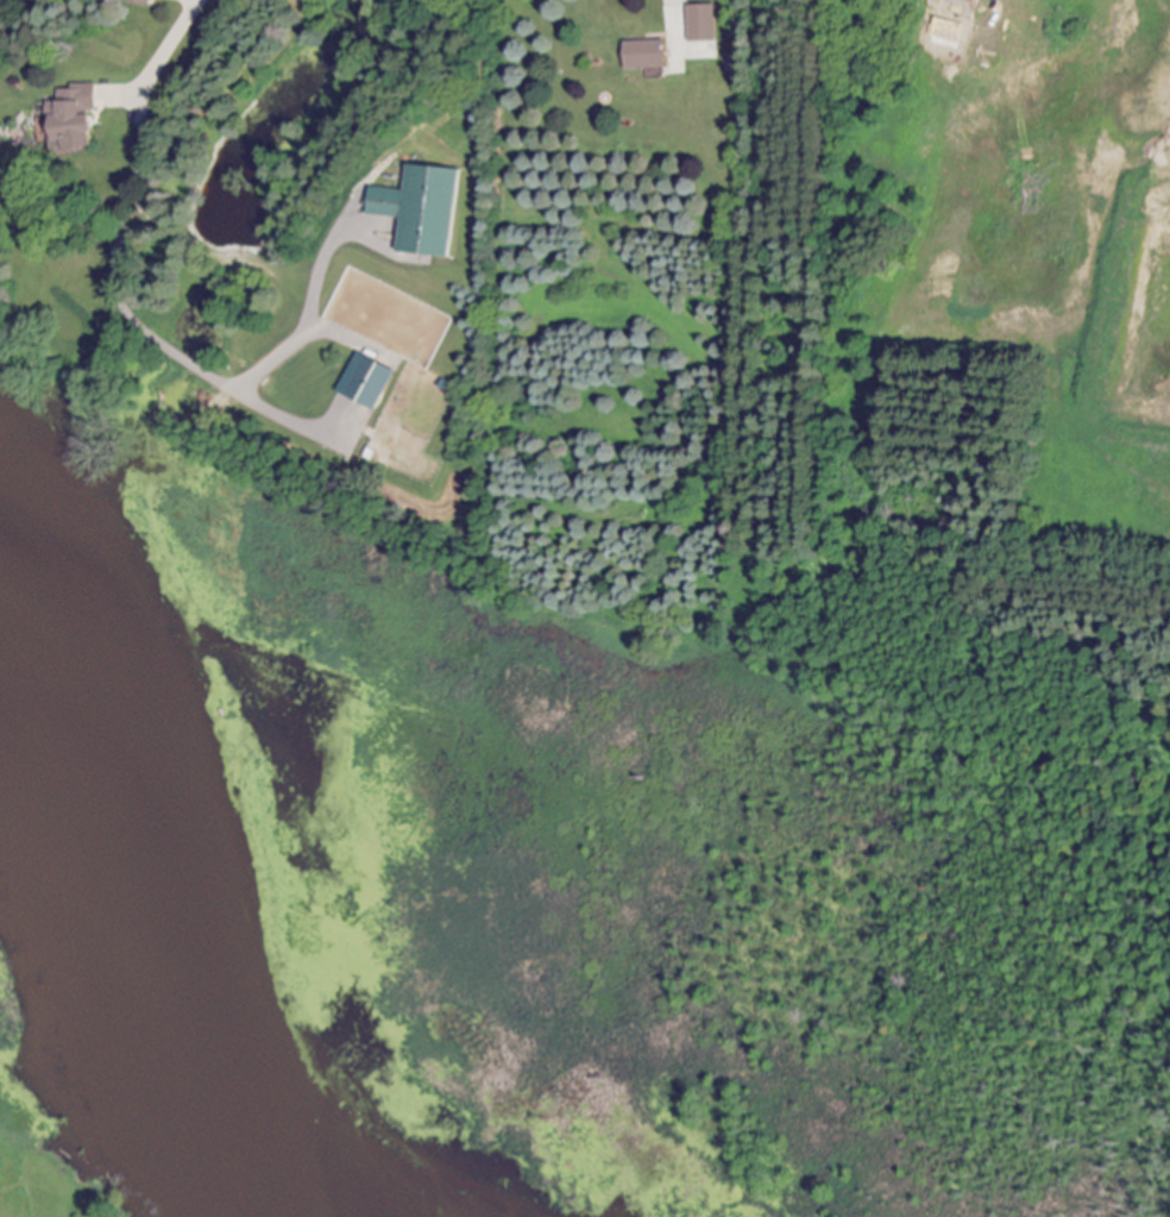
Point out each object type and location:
road: (672, 1)
building: (145, 2)
building: (703, 25)
building: (649, 56)
building: (80, 121)
building: (427, 211)
road: (117, 272)
road: (312, 320)
building: (371, 383)
river: (138, 912)

